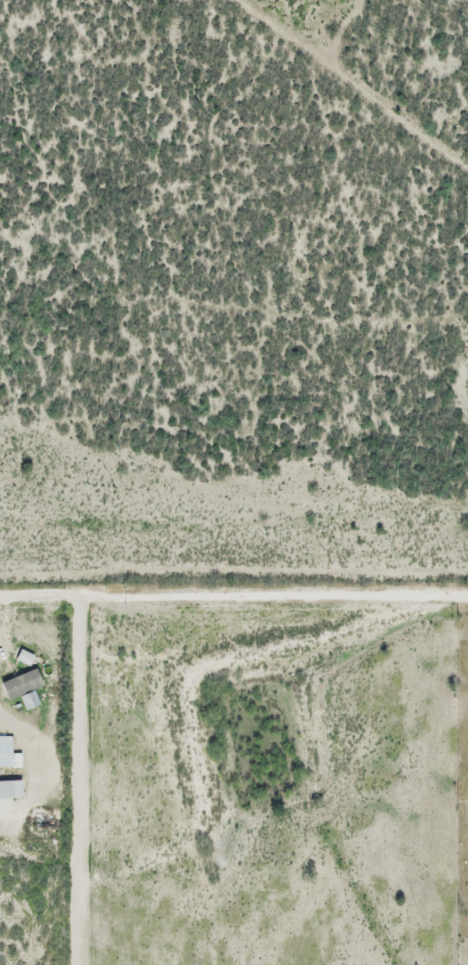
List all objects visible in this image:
road: (234, 598)
building: (23, 658)
building: (28, 693)
building: (7, 754)

